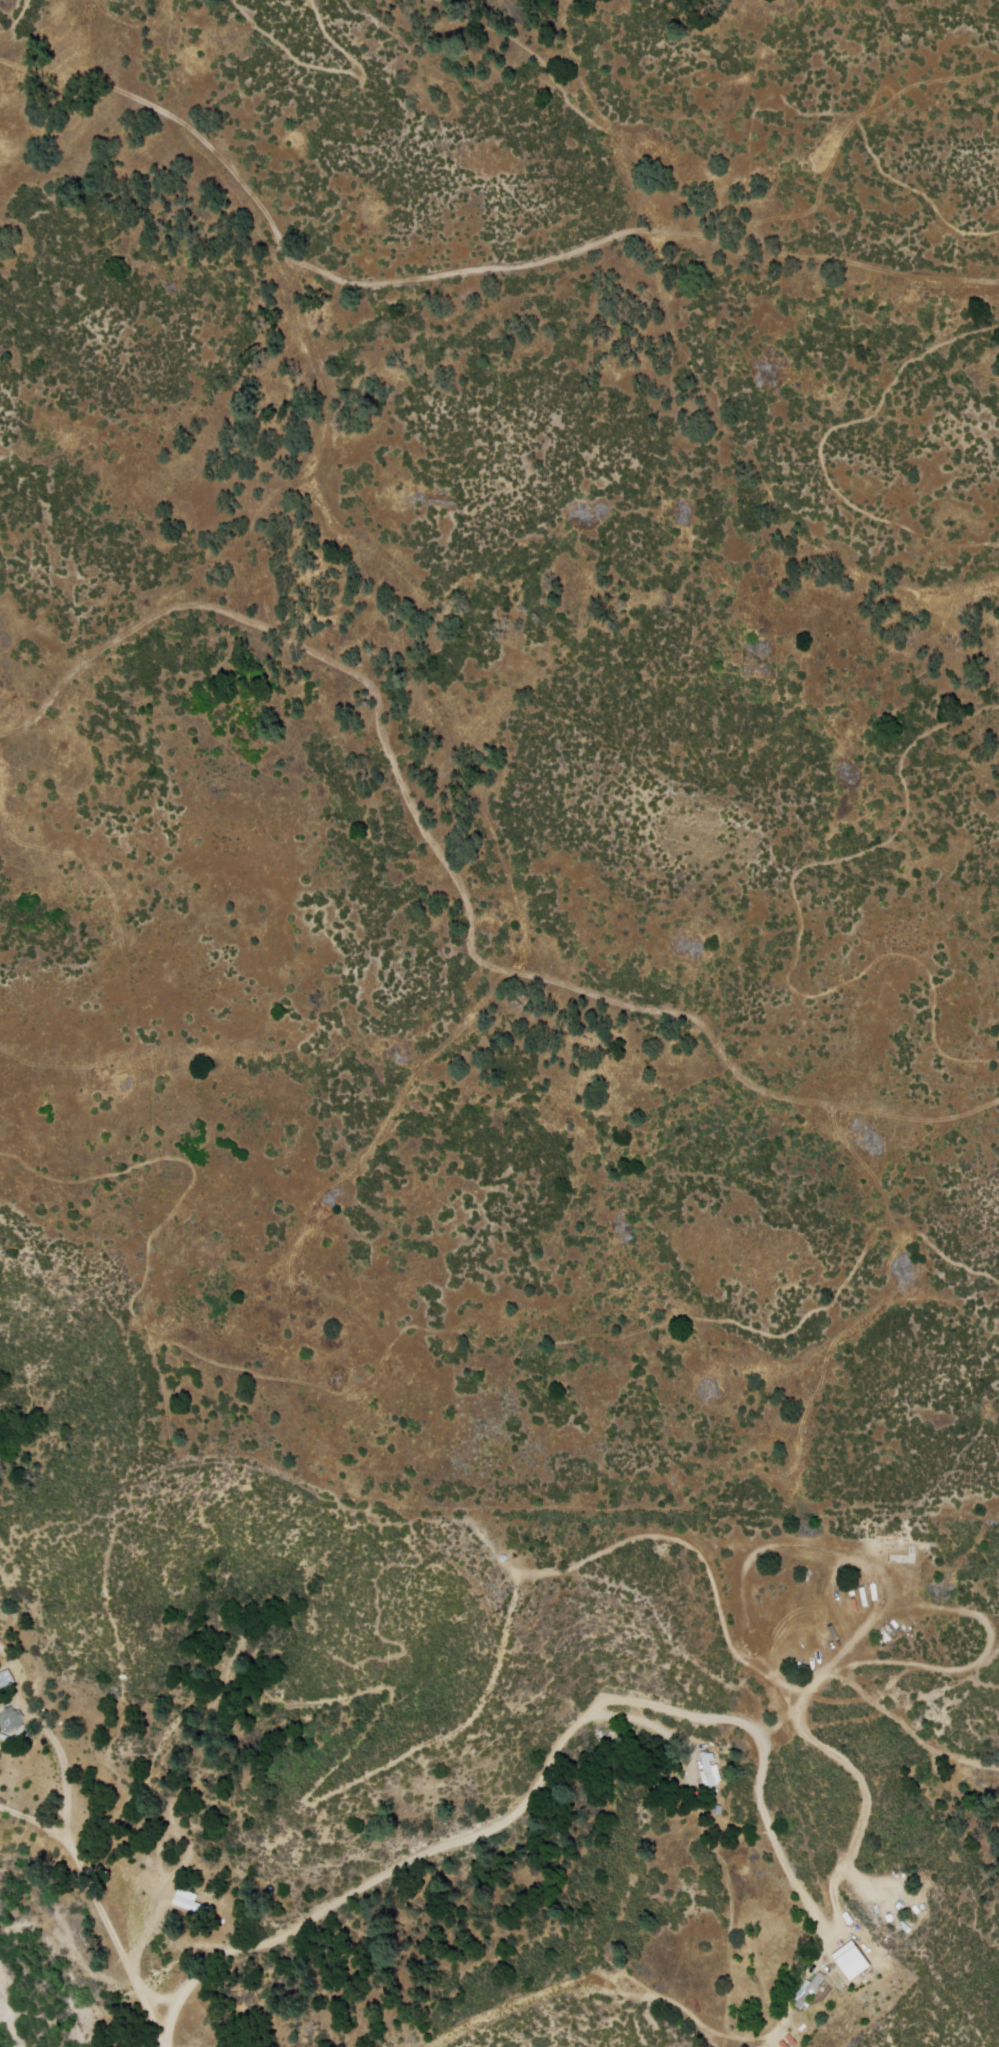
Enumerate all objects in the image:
building: (7, 1683)
building: (13, 1724)
road: (545, 1770)
building: (711, 1770)
building: (967, 1773)
building: (187, 1905)
road: (100, 1920)
building: (173, 1936)
building: (856, 1956)
building: (839, 1984)
building: (810, 1988)
building: (791, 2041)
building: (192, 2044)
building: (783, 2044)

